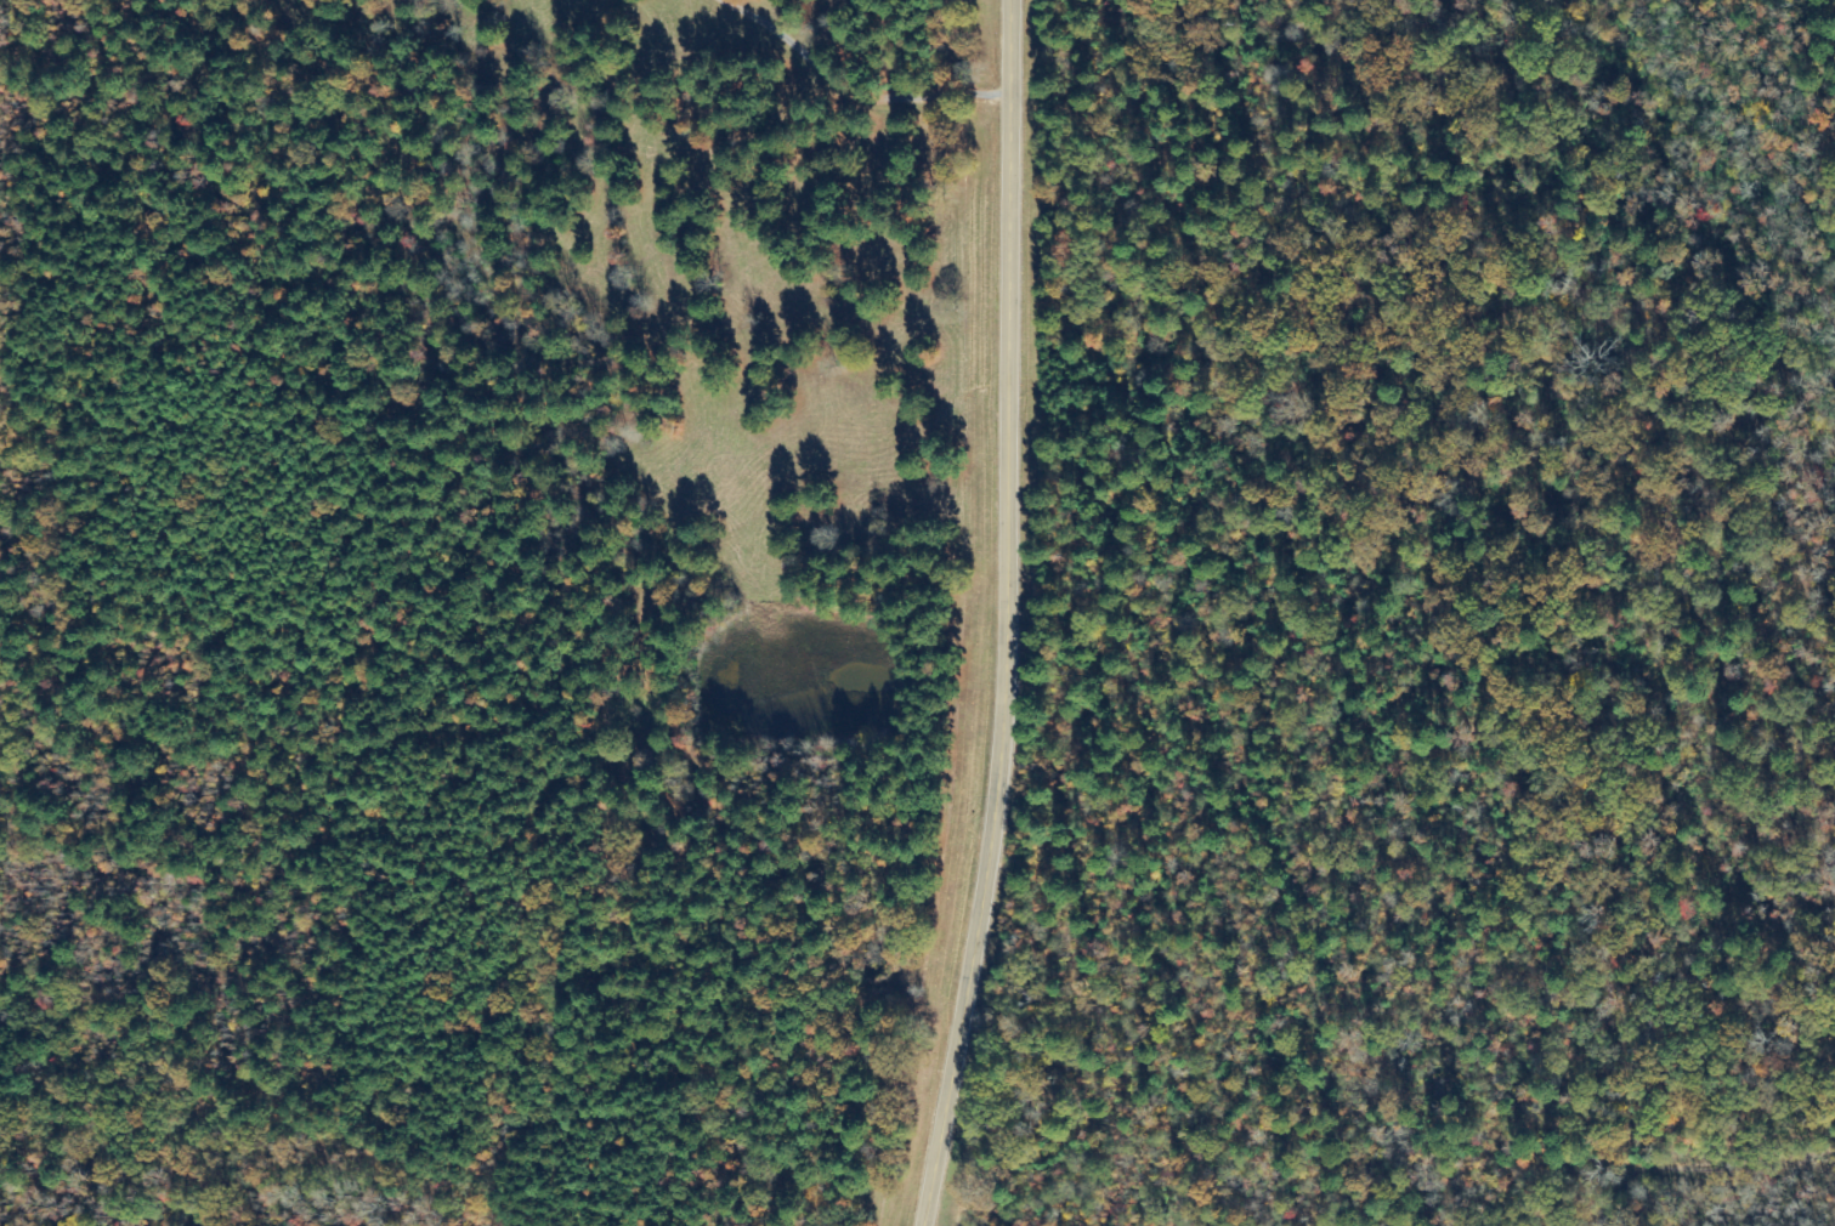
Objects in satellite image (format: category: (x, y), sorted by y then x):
road: (34, 110)
road: (19, 418)
road: (1009, 615)
road: (457, 1156)

